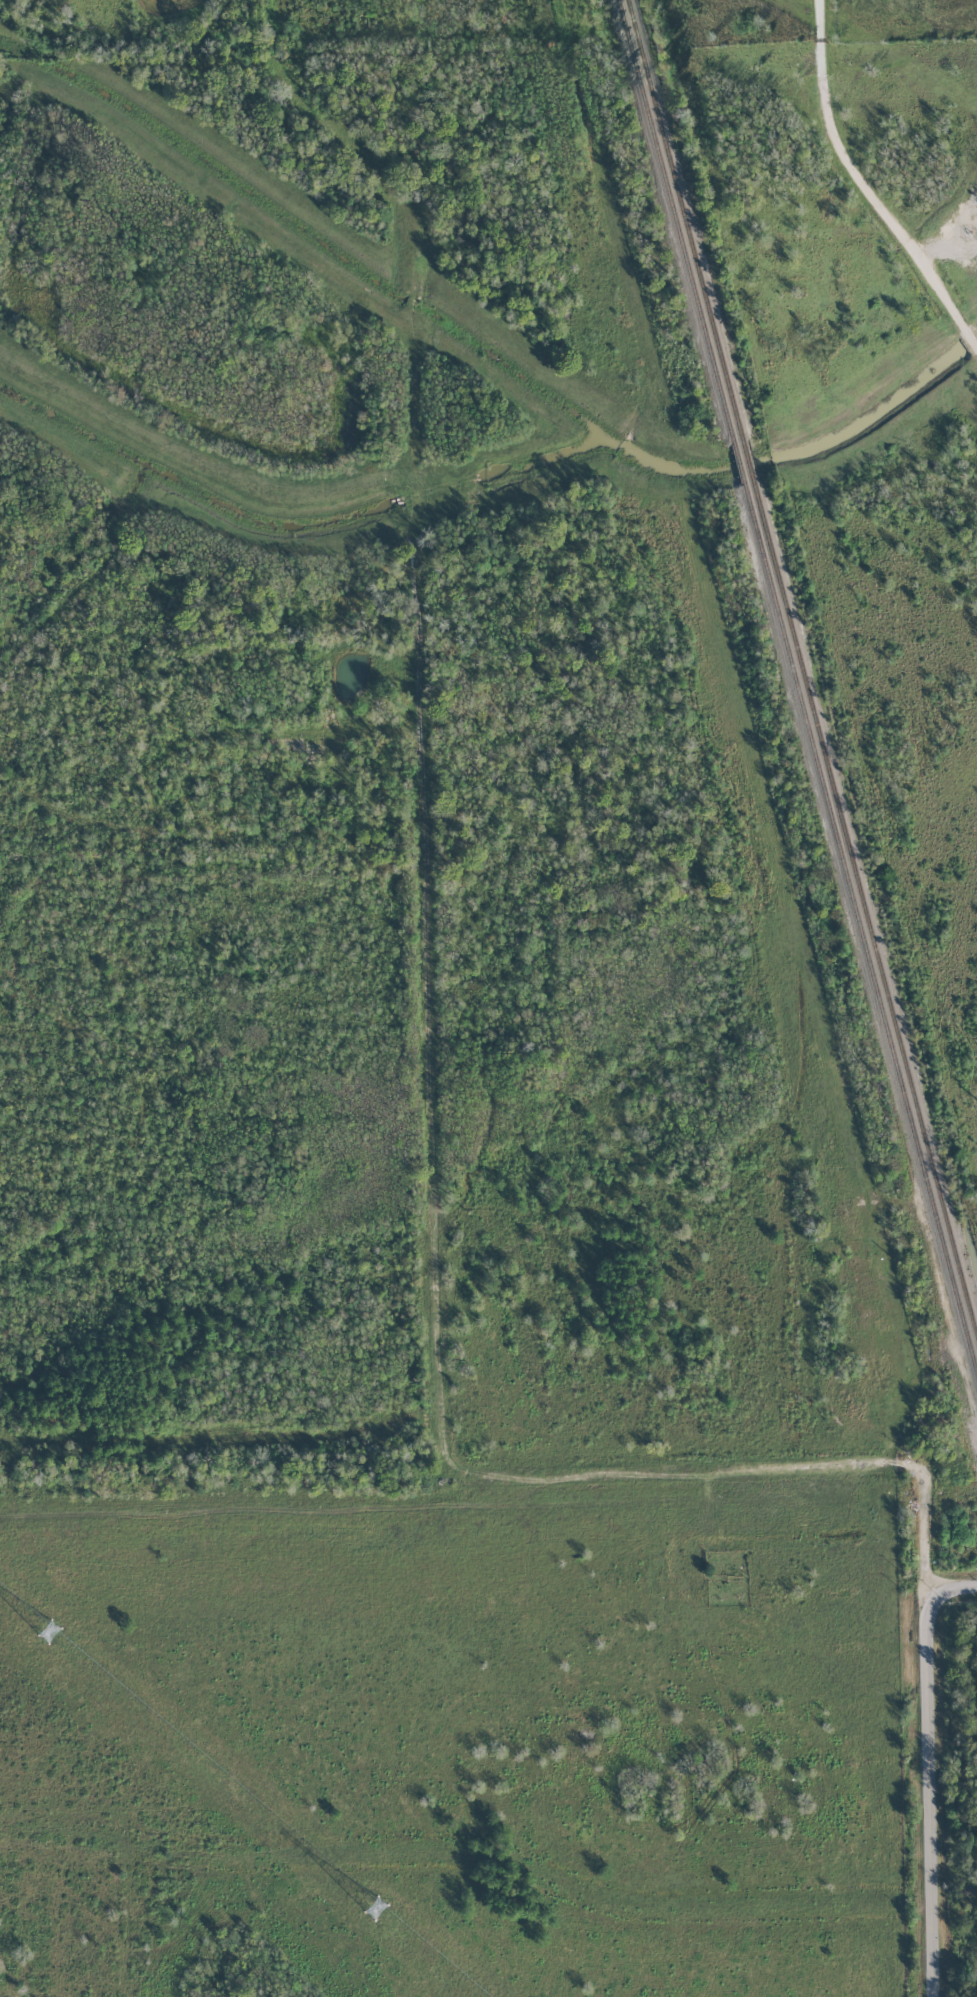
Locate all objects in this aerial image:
road: (865, 185)
railway: (684, 219)
railway: (676, 221)
railway: (748, 460)
railway: (739, 462)
railway: (864, 911)
railway: (860, 929)
road: (304, 1147)
road: (440, 1312)
road: (955, 1586)
power tower: (197, 1757)
road: (928, 1794)
power tower: (458, 1978)

